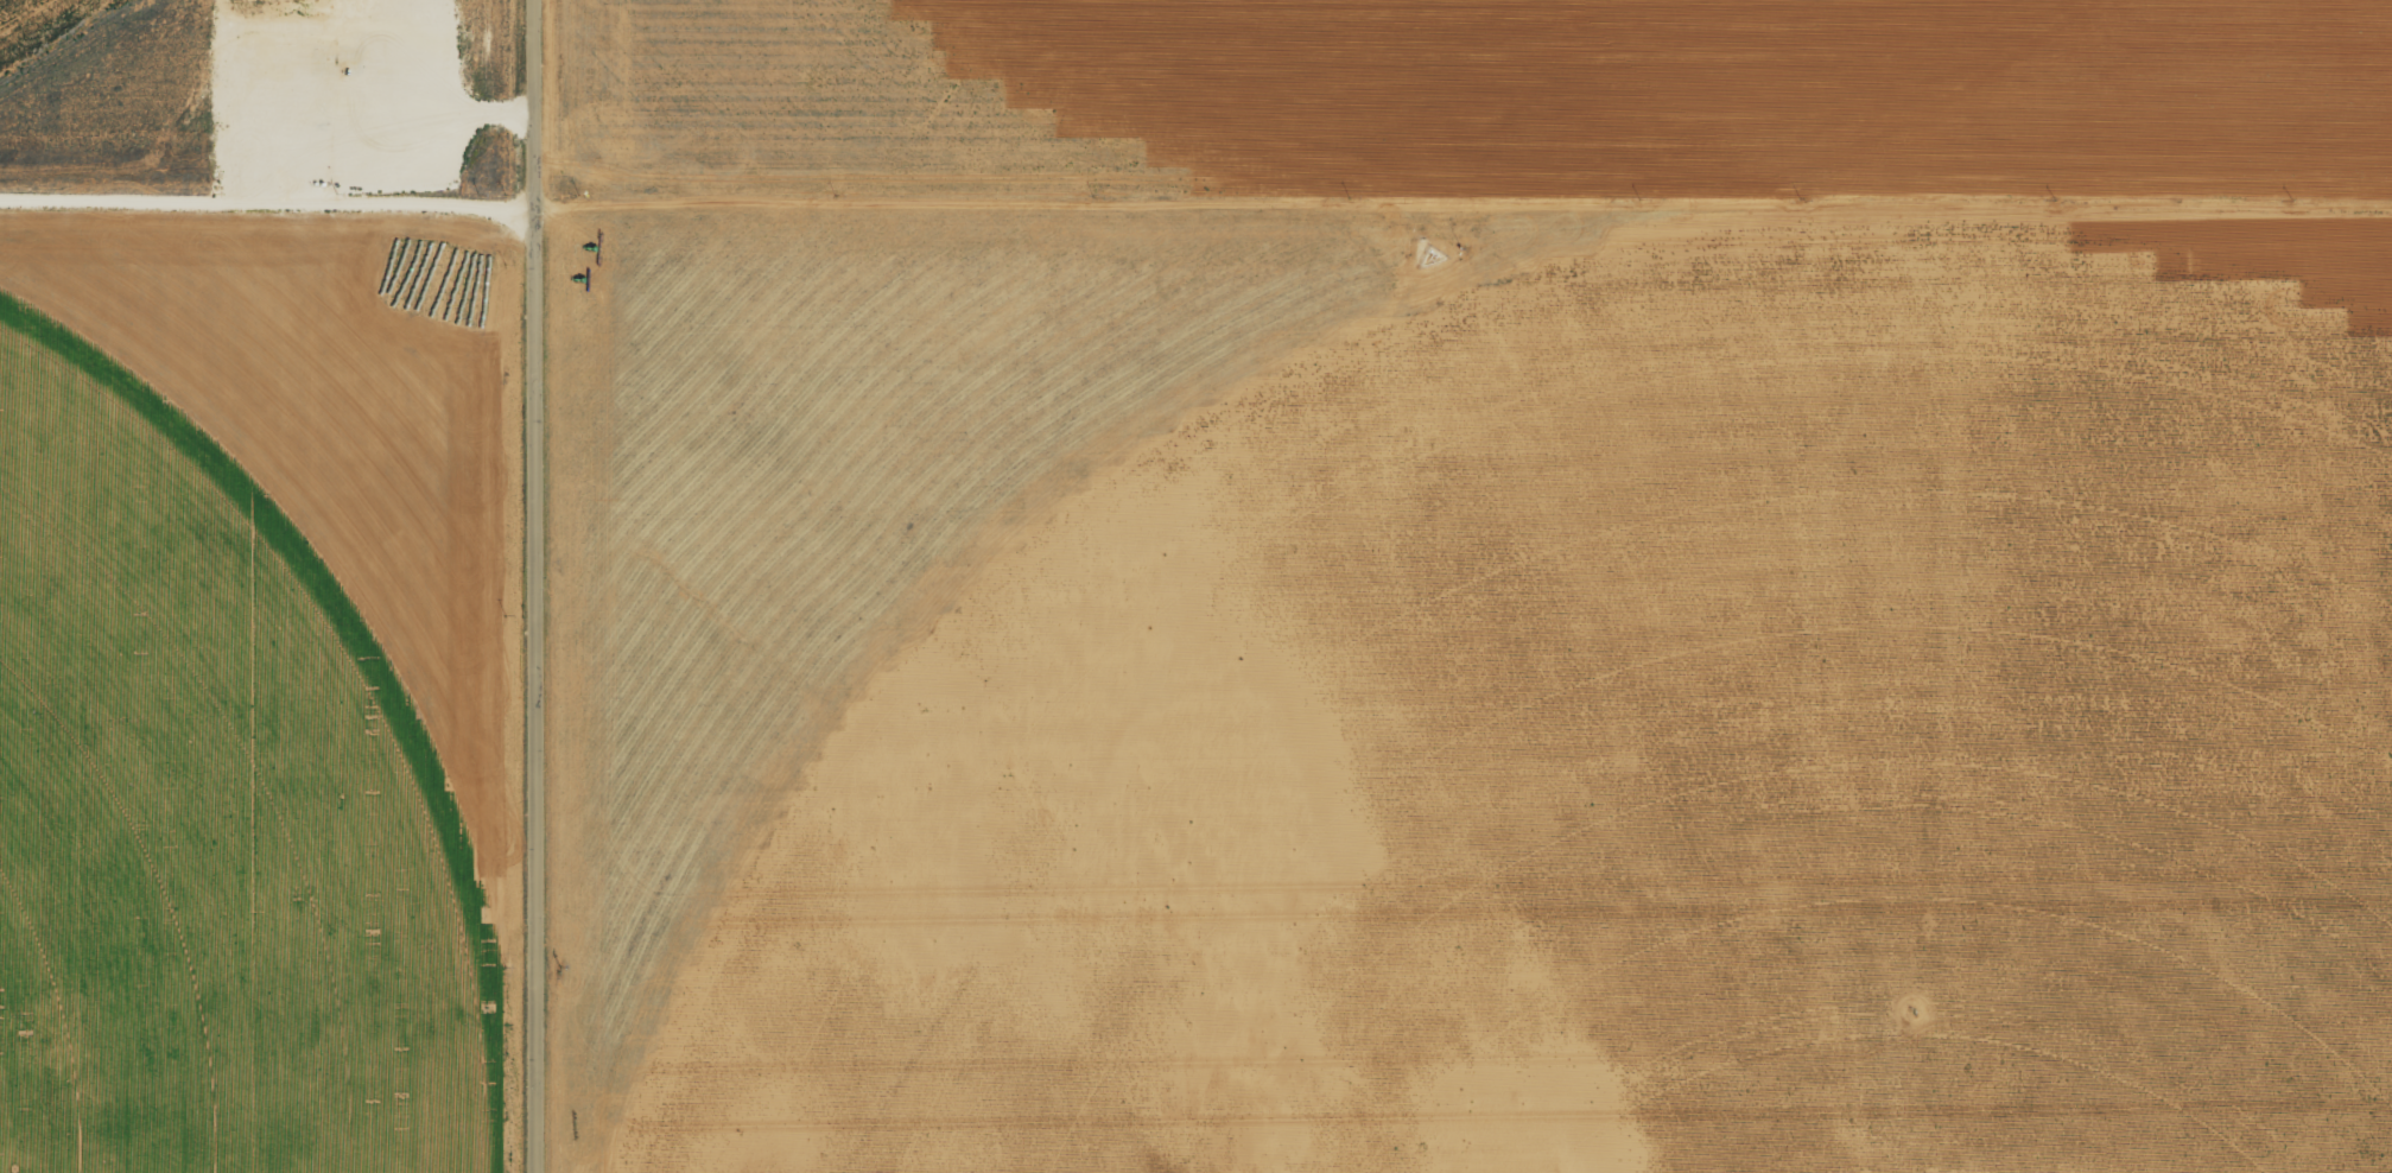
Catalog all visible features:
road: (531, 586)

